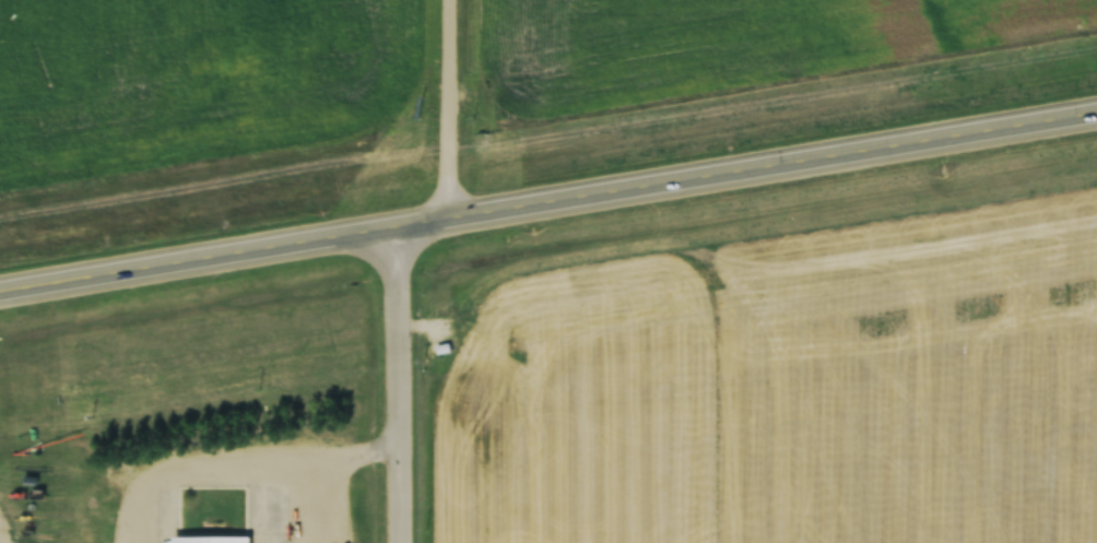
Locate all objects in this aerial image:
road: (547, 199)
road: (396, 383)
building: (211, 540)

